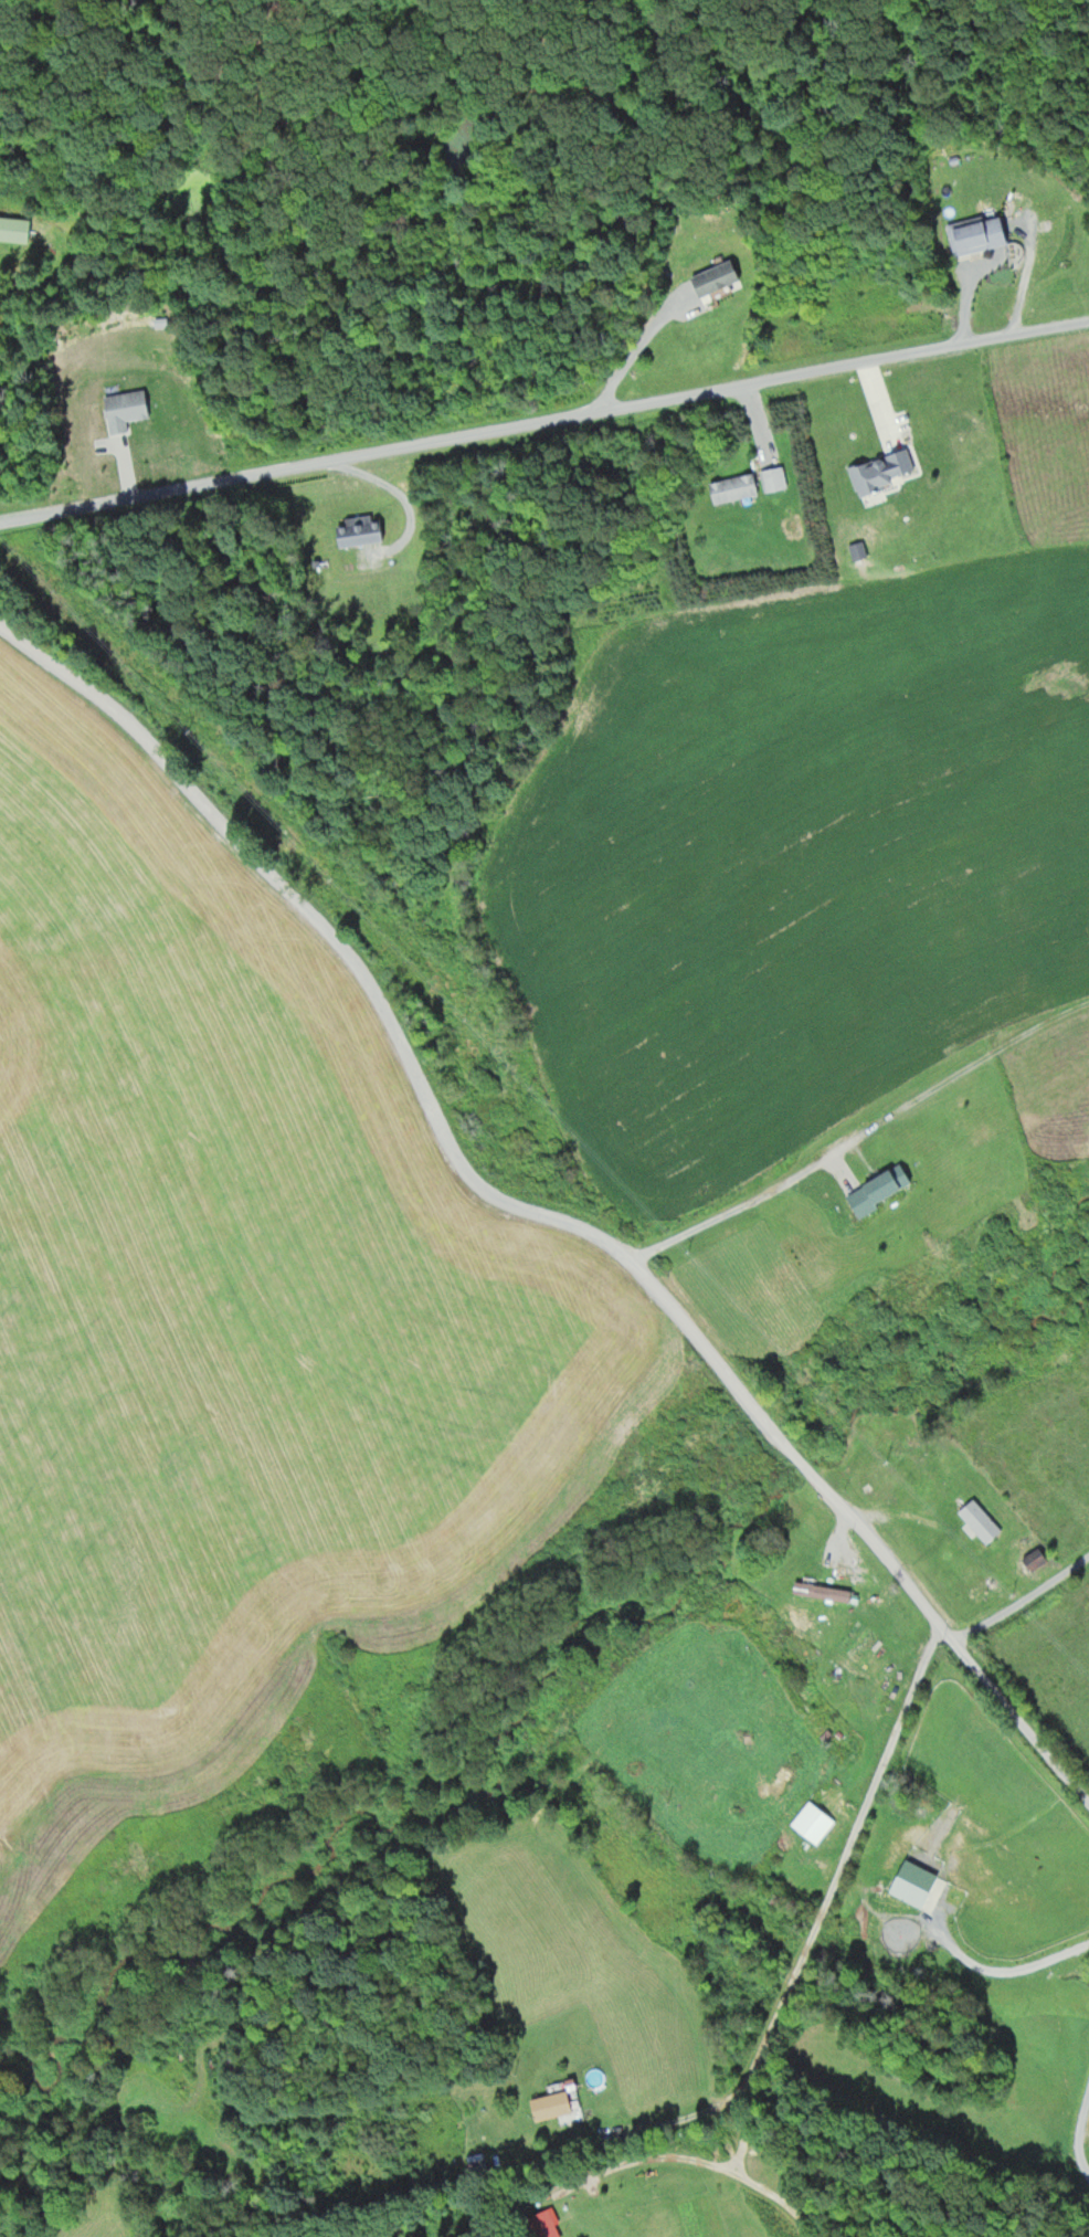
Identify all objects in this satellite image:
building: (11, 228)
building: (973, 234)
building: (707, 278)
road: (544, 422)
building: (876, 468)
building: (769, 478)
building: (729, 487)
building: (350, 531)
building: (879, 1183)
road: (540, 1212)
building: (975, 1519)
building: (808, 1822)
building: (546, 2106)
building: (540, 2224)

